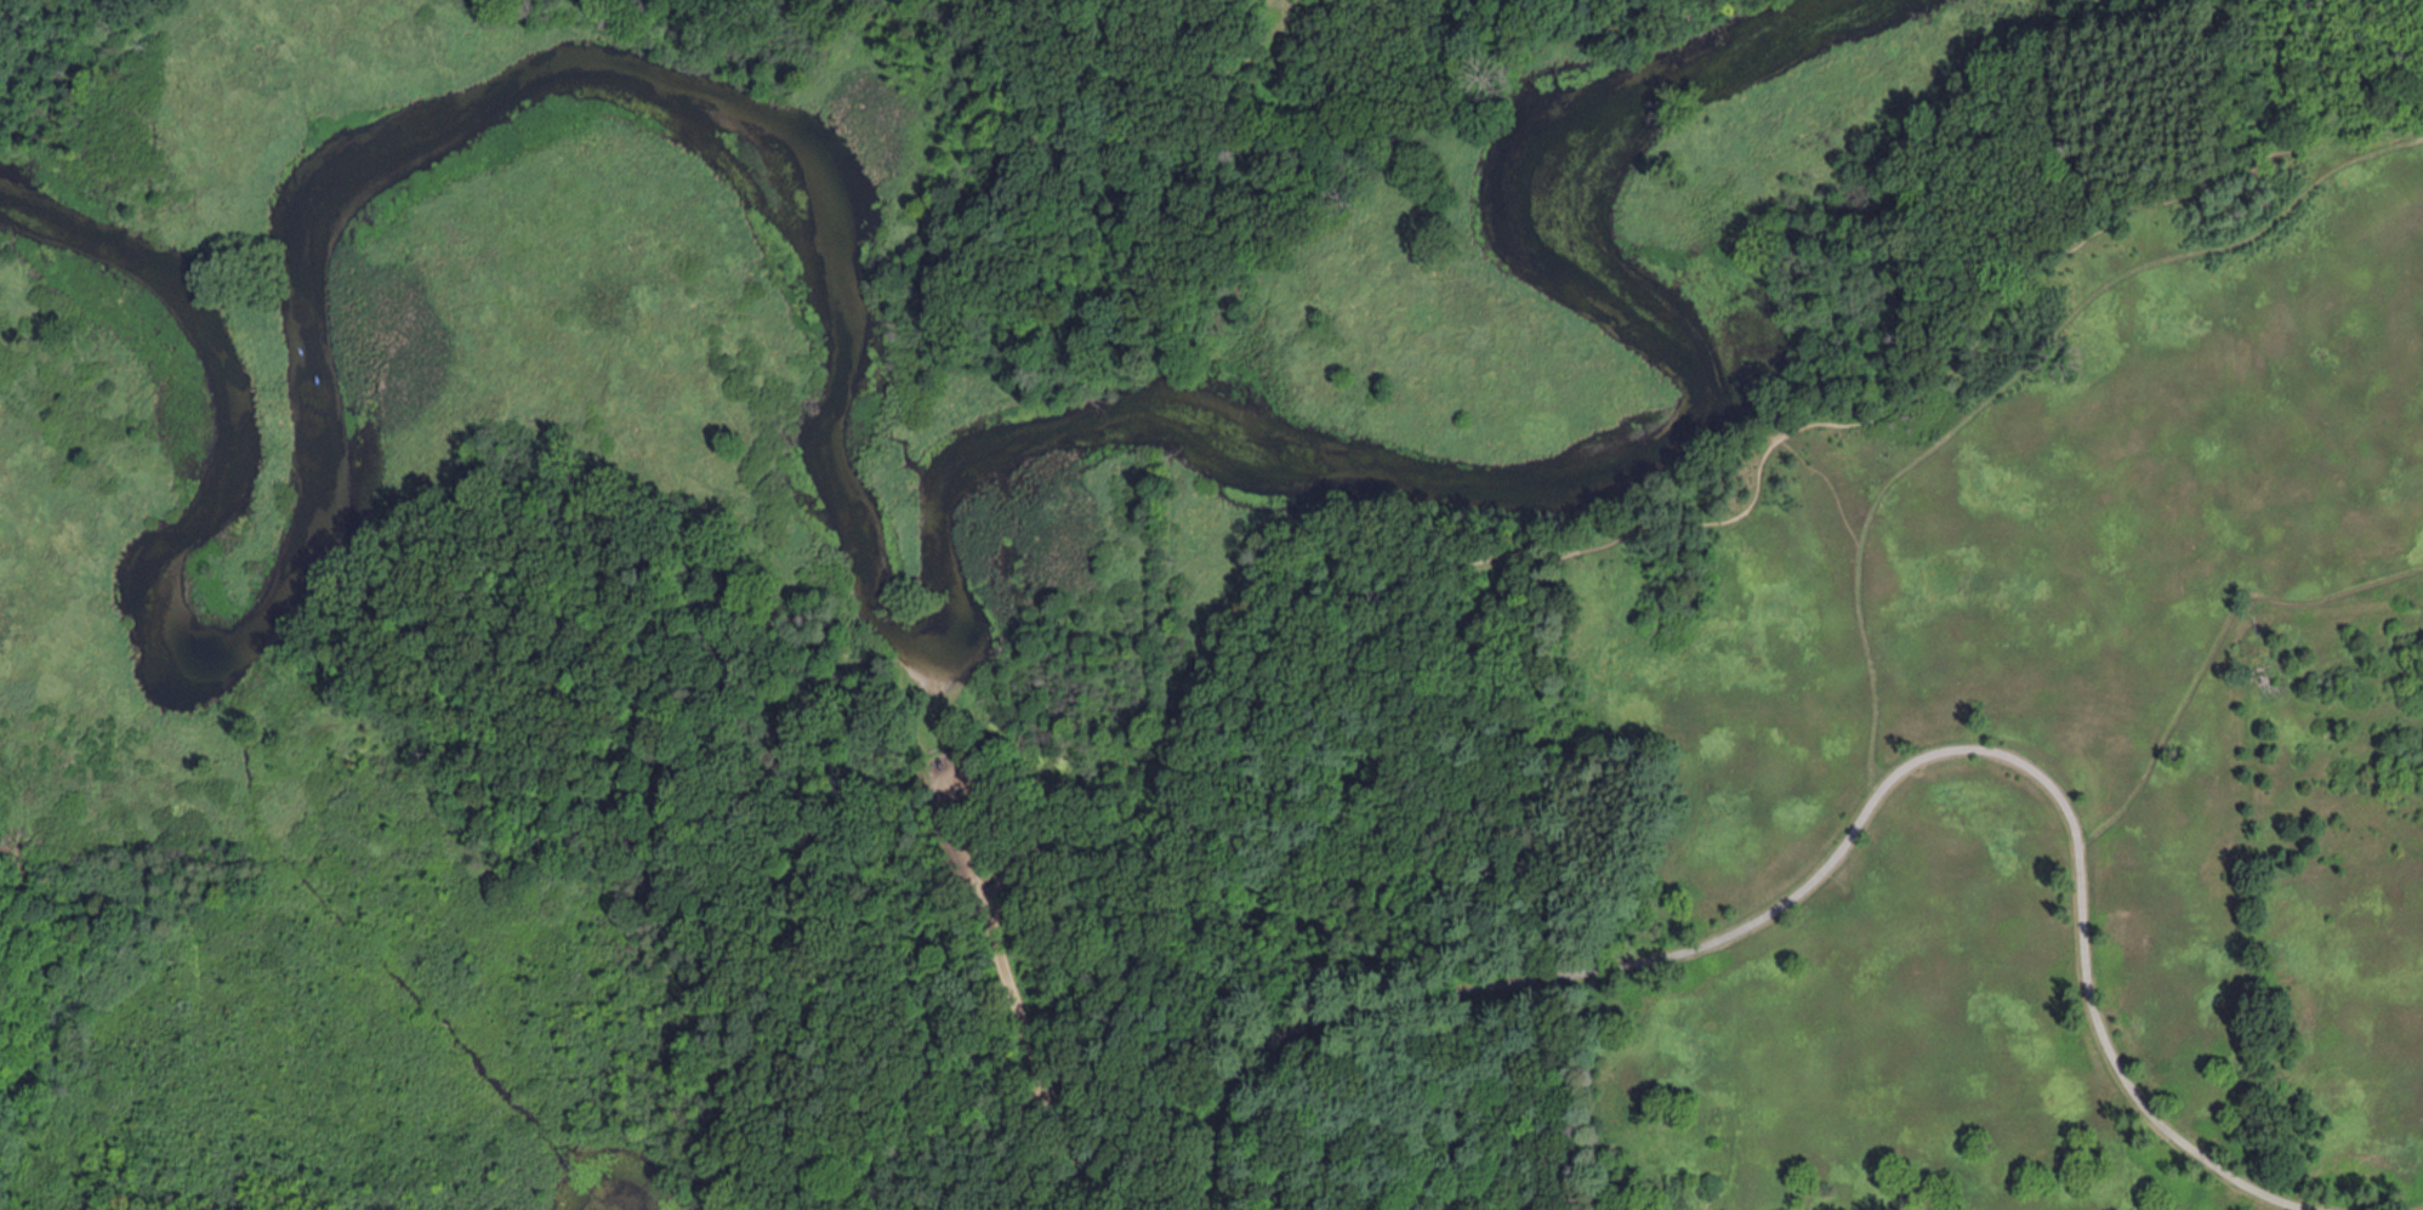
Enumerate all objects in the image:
road: (2012, 377)
road: (1831, 481)
river: (835, 496)
road: (1397, 562)
park: (1211, 604)
road: (2214, 647)
road: (944, 725)
road: (965, 773)
road: (1852, 831)
parking lot: (984, 834)
road: (1082, 846)
road: (1833, 876)
road: (1844, 885)
road: (1042, 1074)

